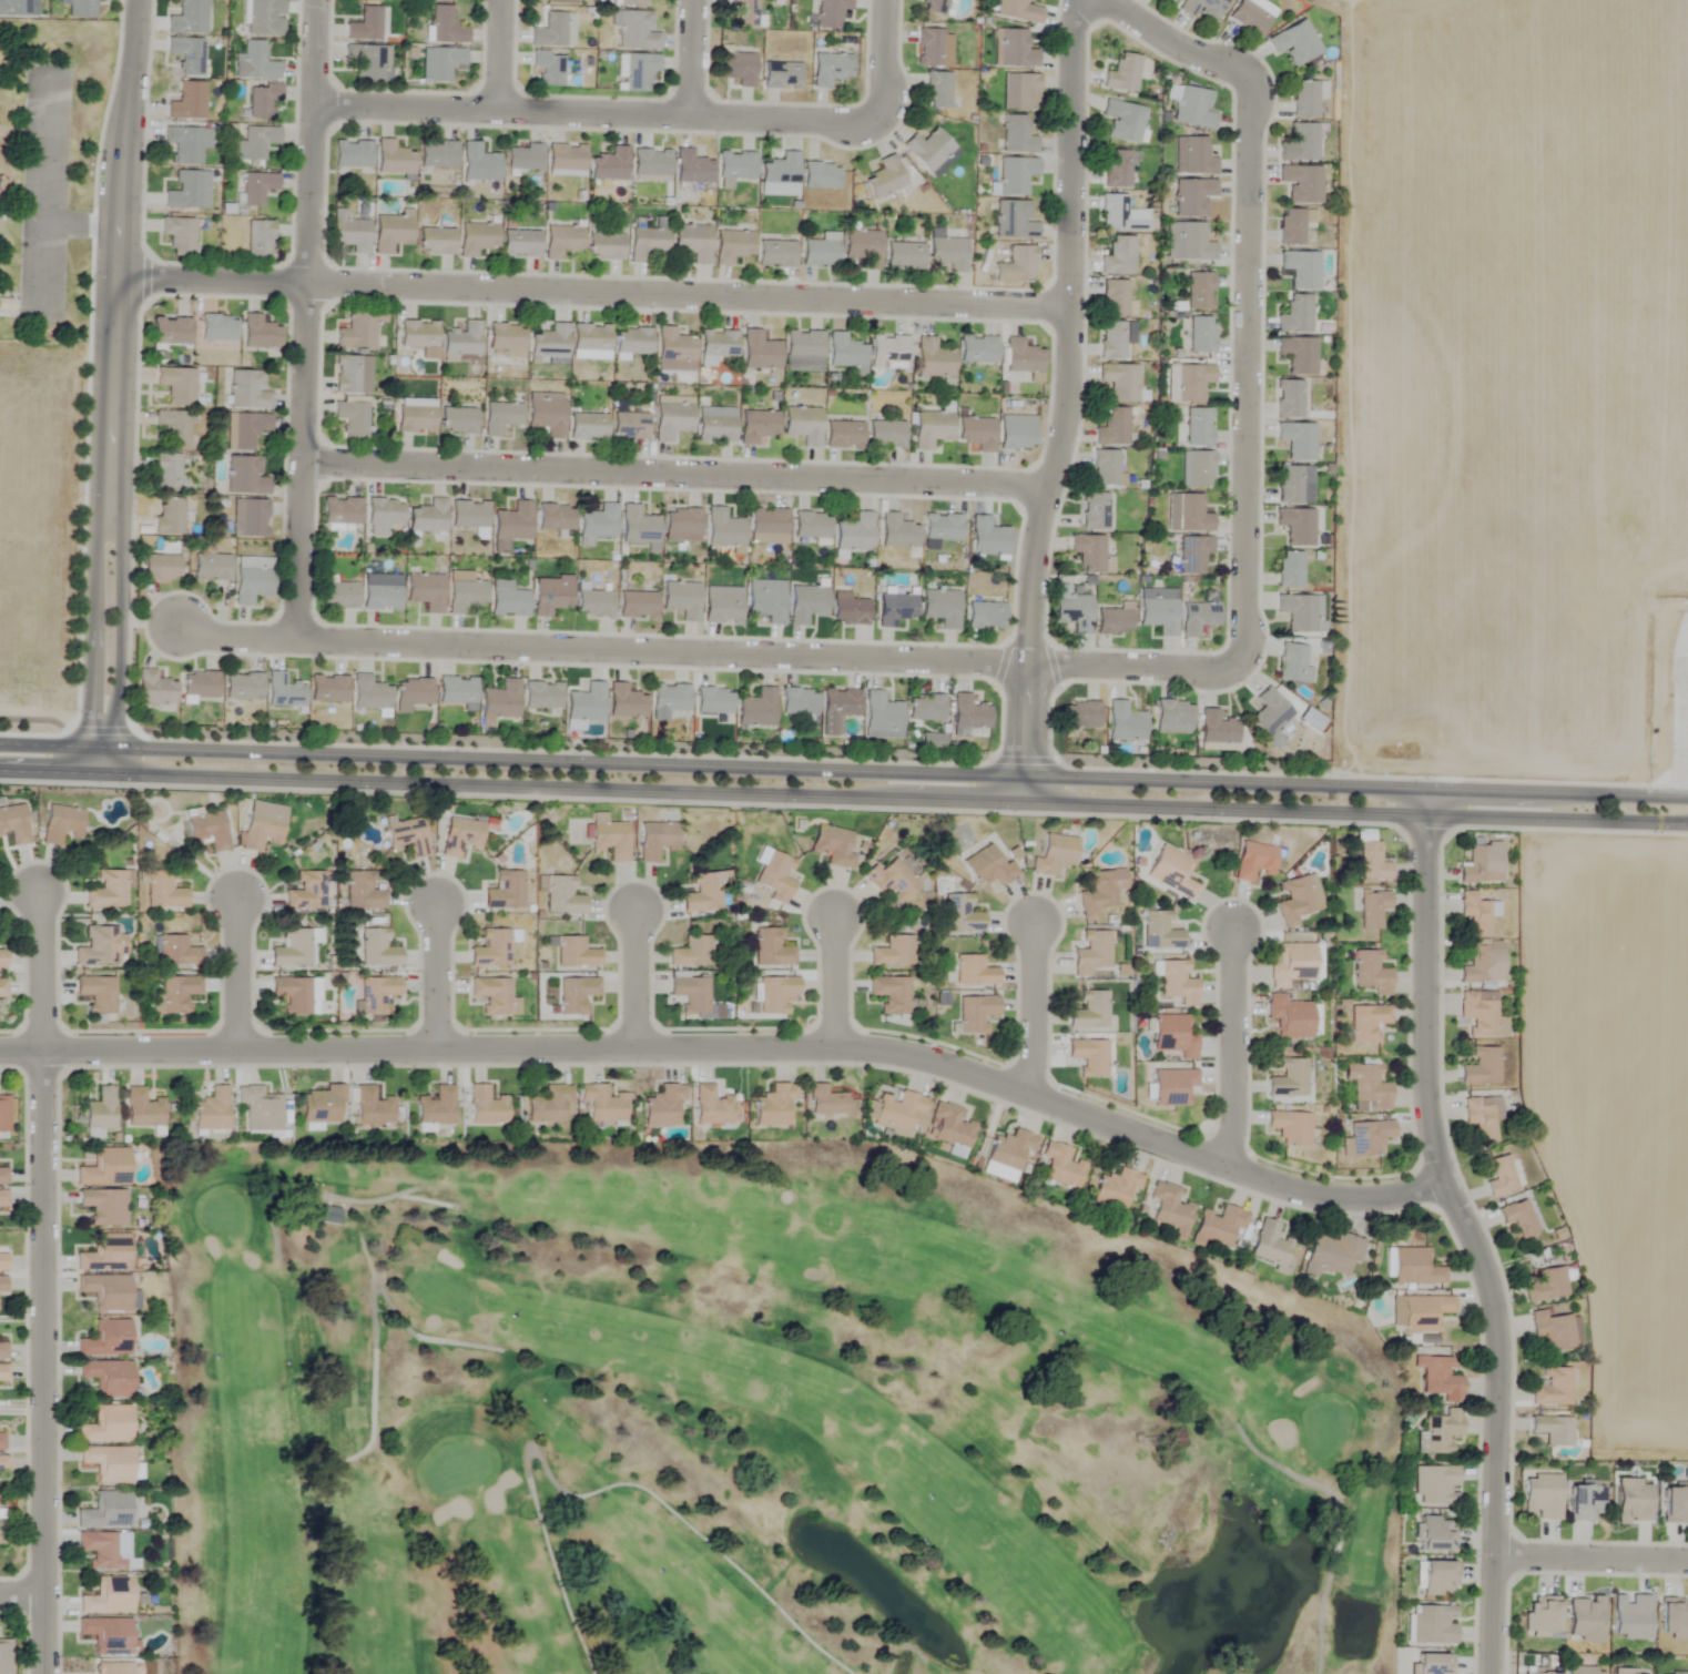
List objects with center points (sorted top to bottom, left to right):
building: (560, 1)
building: (1170, 1)
building: (630, 2)
building: (934, 7)
building: (13, 8)
building: (1202, 8)
building: (80, 9)
building: (1018, 10)
building: (742, 13)
building: (830, 13)
building: (263, 17)
building: (1250, 17)
building: (187, 18)
building: (365, 24)
building: (445, 26)
building: (552, 30)
building: (633, 30)
building: (1294, 42)
road: (1175, 45)
building: (929, 48)
building: (1015, 49)
building: (186, 54)
road: (500, 55)
road: (691, 59)
road: (881, 61)
building: (364, 62)
building: (443, 62)
building: (253, 63)
building: (736, 68)
building: (547, 69)
building: (830, 69)
building: (637, 71)
building: (1122, 73)
building: (781, 75)
building: (937, 90)
building: (1019, 91)
building: (1306, 98)
building: (186, 101)
building: (263, 101)
building: (1193, 108)
road: (594, 113)
building: (1123, 121)
building: (1016, 135)
building: (257, 141)
building: (186, 143)
building: (1300, 143)
building: (929, 150)
building: (352, 154)
building: (437, 154)
building: (1196, 156)
building: (523, 158)
building: (393, 159)
building: (565, 160)
building: (477, 161)
building: (650, 162)
building: (609, 165)
building: (735, 165)
building: (691, 168)
building: (1116, 169)
park: (49, 173)
building: (780, 175)
building: (820, 175)
building: (1015, 175)
building: (884, 177)
road: (44, 181)
building: (1301, 183)
building: (256, 187)
building: (184, 191)
building: (1191, 196)
building: (1120, 215)
building: (1013, 221)
building: (1292, 225)
building: (349, 232)
building: (390, 233)
building: (179, 235)
building: (258, 239)
building: (476, 239)
building: (435, 241)
building: (561, 241)
building: (692, 242)
building: (1187, 242)
building: (647, 243)
building: (519, 244)
building: (604, 246)
building: (732, 246)
building: (863, 247)
building: (821, 251)
road: (43, 253)
building: (775, 254)
building: (948, 254)
road: (119, 256)
building: (904, 256)
building: (1118, 256)
building: (1016, 266)
building: (1300, 268)
building: (1198, 292)
road: (593, 293)
building: (1114, 298)
building: (6, 303)
building: (1295, 315)
road: (303, 319)
building: (216, 327)
building: (358, 329)
building: (170, 331)
building: (260, 333)
building: (417, 334)
building: (1200, 335)
building: (589, 337)
building: (505, 339)
building: (462, 341)
building: (632, 341)
building: (1111, 341)
building: (549, 343)
building: (718, 345)
building: (977, 349)
building: (759, 351)
building: (673, 352)
building: (803, 352)
building: (888, 352)
building: (846, 354)
building: (1298, 355)
building: (1021, 357)
building: (933, 359)
road: (1247, 369)
building: (352, 375)
building: (1120, 382)
building: (1191, 383)
building: (176, 385)
crop: (1523, 386)
building: (247, 390)
building: (1289, 399)
road: (1067, 402)
building: (546, 414)
building: (415, 418)
building: (500, 418)
building: (350, 419)
building: (457, 420)
building: (671, 420)
building: (714, 425)
building: (803, 425)
building: (587, 426)
building: (629, 426)
building: (756, 426)
building: (1198, 427)
building: (173, 428)
building: (1112, 428)
building: (931, 429)
building: (244, 430)
building: (976, 433)
building: (843, 434)
building: (885, 434)
building: (1017, 437)
building: (1298, 440)
building: (1105, 468)
building: (1198, 469)
building: (166, 473)
road: (677, 473)
building: (245, 475)
building: (1294, 485)
building: (340, 511)
building: (1092, 511)
building: (1186, 515)
building: (383, 516)
building: (167, 517)
building: (427, 517)
building: (470, 517)
building: (553, 517)
building: (248, 518)
building: (512, 523)
building: (598, 524)
building: (681, 526)
building: (767, 526)
building: (810, 526)
building: (1295, 526)
building: (638, 527)
building: (940, 528)
building: (723, 529)
building: (896, 532)
building: (854, 534)
building: (988, 538)
building: (1088, 552)
building: (1192, 555)
building: (160, 568)
building: (211, 568)
building: (1289, 570)
building: (252, 579)
building: (425, 591)
building: (338, 596)
building: (465, 596)
building: (550, 596)
building: (380, 597)
building: (507, 600)
building: (681, 600)
building: (766, 600)
building: (806, 603)
building: (593, 605)
building: (637, 606)
building: (722, 606)
building: (940, 608)
building: (895, 609)
building: (1158, 610)
building: (850, 611)
building: (1072, 612)
building: (1300, 615)
building: (985, 616)
building: (1198, 618)
building: (1114, 620)
road: (94, 640)
road: (116, 641)
road: (709, 652)
building: (1293, 664)
building: (199, 684)
building: (242, 686)
building: (328, 688)
building: (153, 689)
building: (283, 691)
building: (413, 691)
building: (456, 691)
building: (369, 693)
building: (541, 694)
building: (668, 700)
building: (499, 701)
building: (712, 701)
building: (797, 701)
building: (624, 702)
building: (584, 703)
building: (924, 707)
building: (756, 708)
building: (836, 708)
building: (881, 712)
building: (968, 712)
building: (1080, 714)
building: (1172, 717)
building: (1270, 717)
building: (1125, 722)
building: (1217, 730)
road: (844, 767)
road: (843, 794)
building: (60, 823)
building: (13, 824)
building: (262, 825)
building: (207, 830)
building: (407, 836)
building: (460, 836)
building: (609, 838)
building: (655, 840)
building: (833, 846)
building: (1054, 855)
building: (1253, 861)
building: (1371, 862)
building: (1482, 863)
building: (987, 866)
building: (1171, 872)
building: (775, 876)
building: (891, 880)
building: (164, 890)
building: (108, 891)
building: (306, 891)
building: (505, 891)
building: (362, 892)
building: (1100, 892)
building: (703, 894)
building: (562, 895)
building: (1298, 900)
building: (1372, 909)
building: (959, 914)
building: (1475, 914)
building: (1159, 931)
building: (100, 947)
building: (292, 948)
building: (374, 948)
building: (490, 948)
building: (771, 948)
building: (176, 952)
building: (574, 952)
building: (893, 952)
building: (1092, 952)
building: (691, 953)
building: (2, 958)
building: (1483, 964)
building: (1294, 965)
road: (42, 970)
road: (237, 972)
building: (973, 972)
building: (1370, 972)
road: (436, 976)
road: (635, 980)
road: (830, 980)
building: (1176, 983)
road: (1234, 984)
building: (1, 988)
building: (96, 993)
building: (176, 994)
building: (691, 994)
building: (775, 994)
building: (891, 994)
building: (292, 995)
building: (377, 995)
building: (576, 995)
building: (494, 996)
road: (1035, 1010)
building: (1089, 1012)
building: (975, 1014)
building: (1482, 1015)
building: (1289, 1017)
building: (1366, 1023)
building: (1172, 1036)
road: (734, 1049)
building: (1089, 1057)
building: (1481, 1067)
building: (1288, 1079)
building: (1171, 1087)
building: (1367, 1088)
building: (825, 1102)
road: (1233, 1103)
building: (547, 1104)
building: (601, 1104)
building: (322, 1105)
building: (773, 1105)
building: (662, 1106)
building: (712, 1106)
building: (372, 1107)
building: (436, 1107)
building: (485, 1107)
building: (100, 1109)
building: (142, 1109)
building: (260, 1109)
building: (212, 1110)
crop: (1616, 1110)
building: (898, 1112)
building: (3, 1114)
building: (1482, 1117)
building: (950, 1127)
building: (1290, 1128)
building: (1365, 1138)
building: (1008, 1150)
building: (1060, 1166)
building: (104, 1167)
building: (1501, 1177)
building: (2, 1187)
building: (1115, 1188)
building: (103, 1206)
building: (1169, 1209)
building: (329, 1215)
building: (1518, 1218)
building: (1218, 1227)
road: (1465, 1229)
building: (1269, 1244)
building: (105, 1254)
building: (1331, 1254)
building: (2, 1260)
building: (1413, 1267)
building: (2, 1285)
building: (1547, 1285)
building: (105, 1291)
building: (1423, 1312)
building: (1553, 1330)
building: (105, 1339)
building: (2, 1350)
road: (43, 1361)
building: (2, 1372)
building: (108, 1377)
building: (1437, 1378)
building: (1552, 1387)
park: (724, 1418)
building: (105, 1426)
building: (1554, 1430)
building: (1440, 1431)
building: (1, 1441)
building: (2, 1463)
building: (108, 1463)
building: (1434, 1484)
building: (1542, 1497)
building: (1634, 1501)
building: (1585, 1503)
building: (1675, 1504)
building: (106, 1511)
building: (1, 1526)
building: (1435, 1533)
building: (101, 1551)
road: (1592, 1555)
building: (1437, 1577)
road: (23, 1595)
building: (109, 1596)
building: (1542, 1615)
building: (1630, 1616)
building: (1672, 1617)
building: (1584, 1619)
building: (1433, 1624)
building: (108, 1635)
building: (4, 1656)
building: (1432, 1664)
building: (114, 1668)
building: (1584, 1671)
building: (1628, 1672)
building: (1540, 1673)

